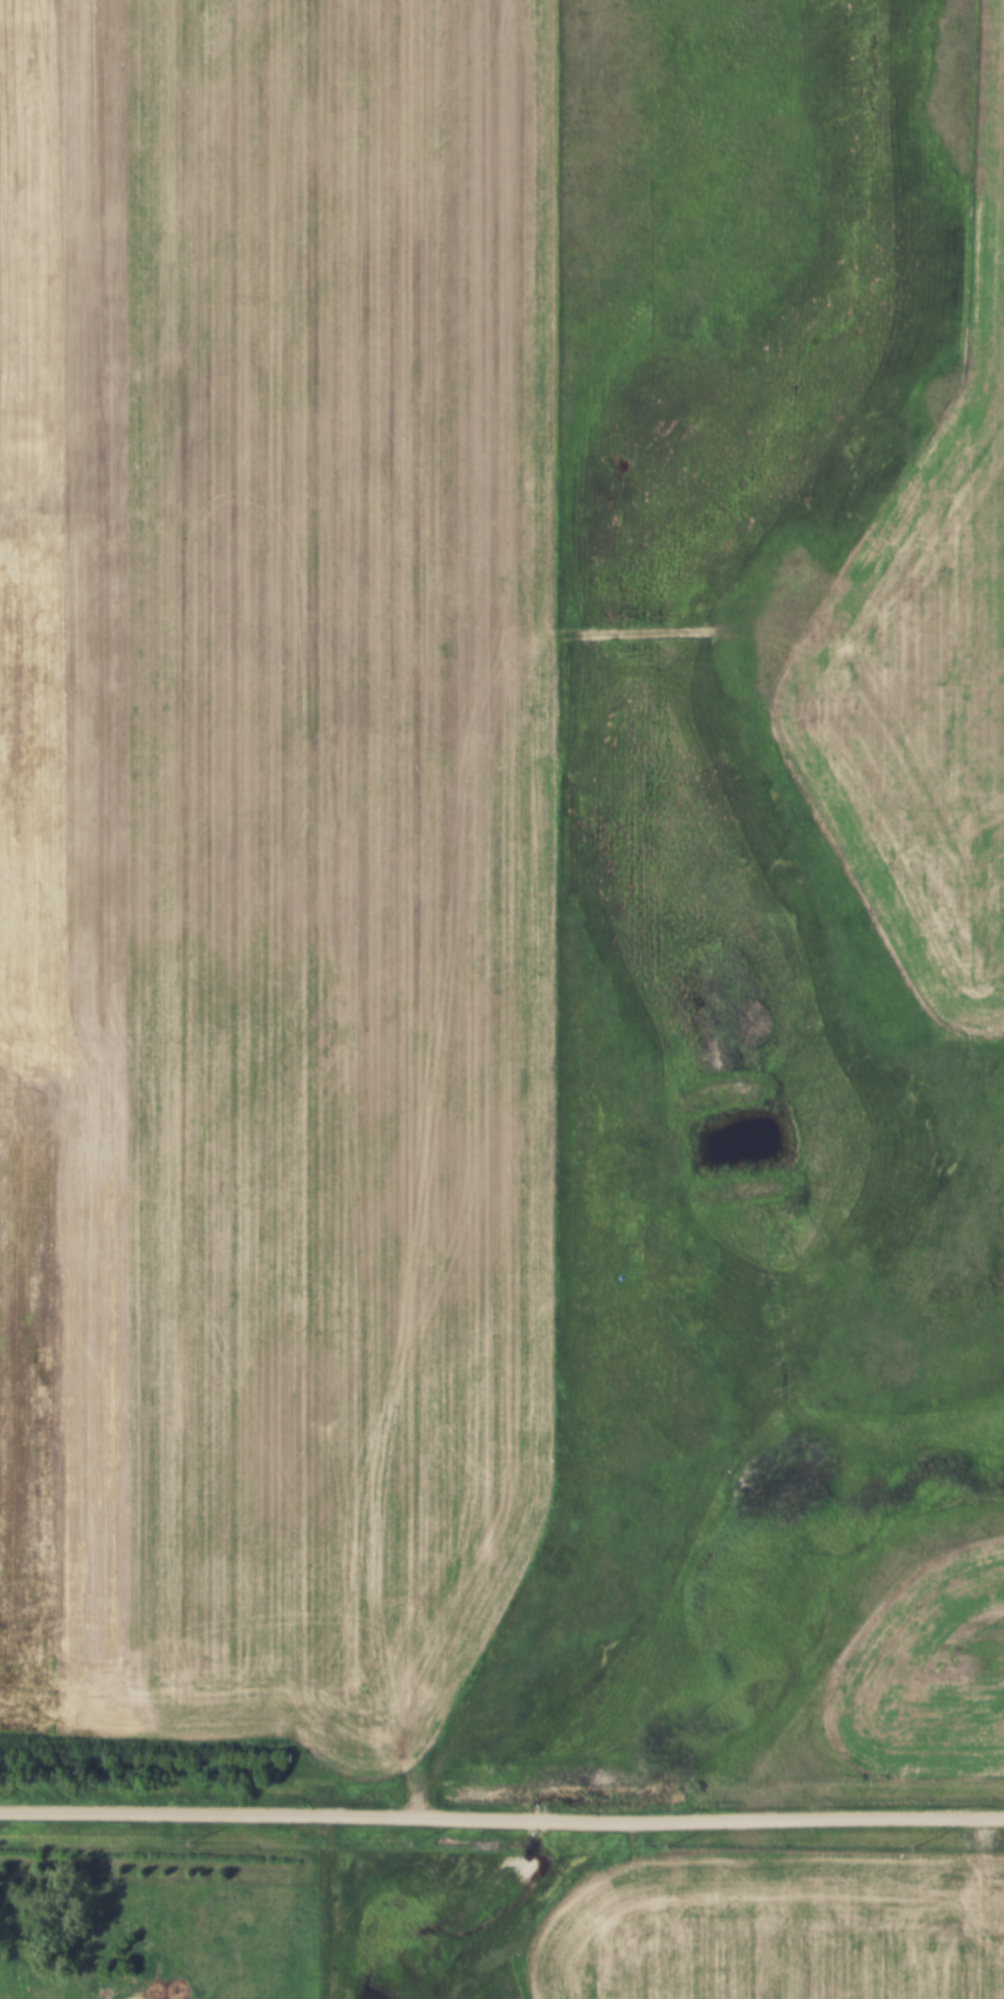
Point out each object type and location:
road: (501, 1814)

